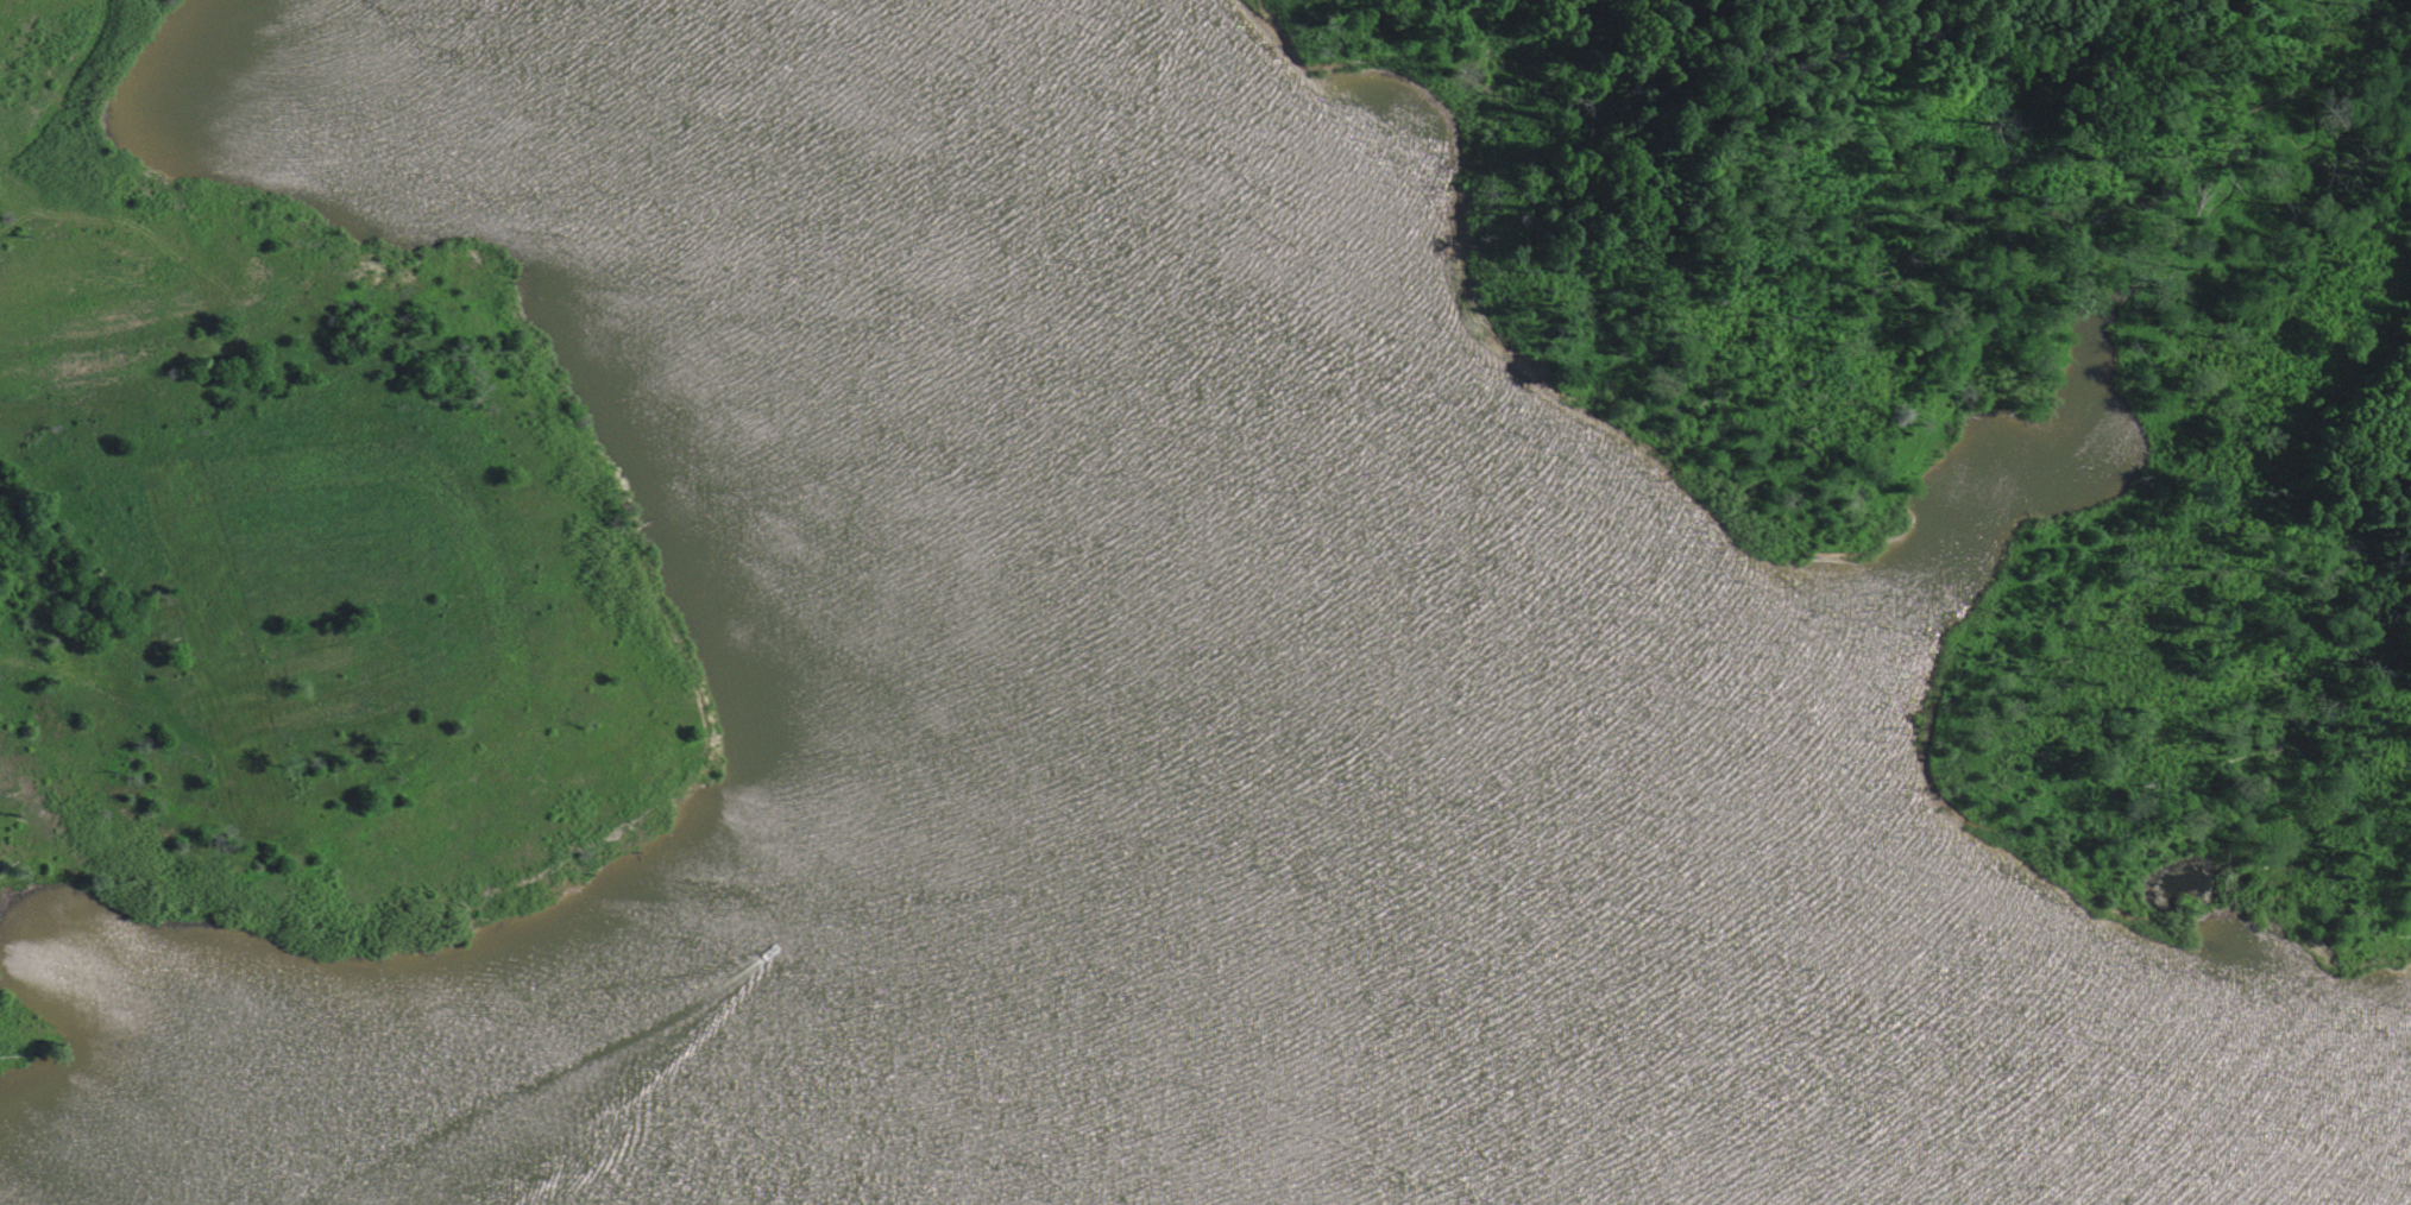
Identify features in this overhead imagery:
road: (90, 347)
road: (90, 414)
road: (327, 450)
river: (1156, 629)
road: (178, 706)

